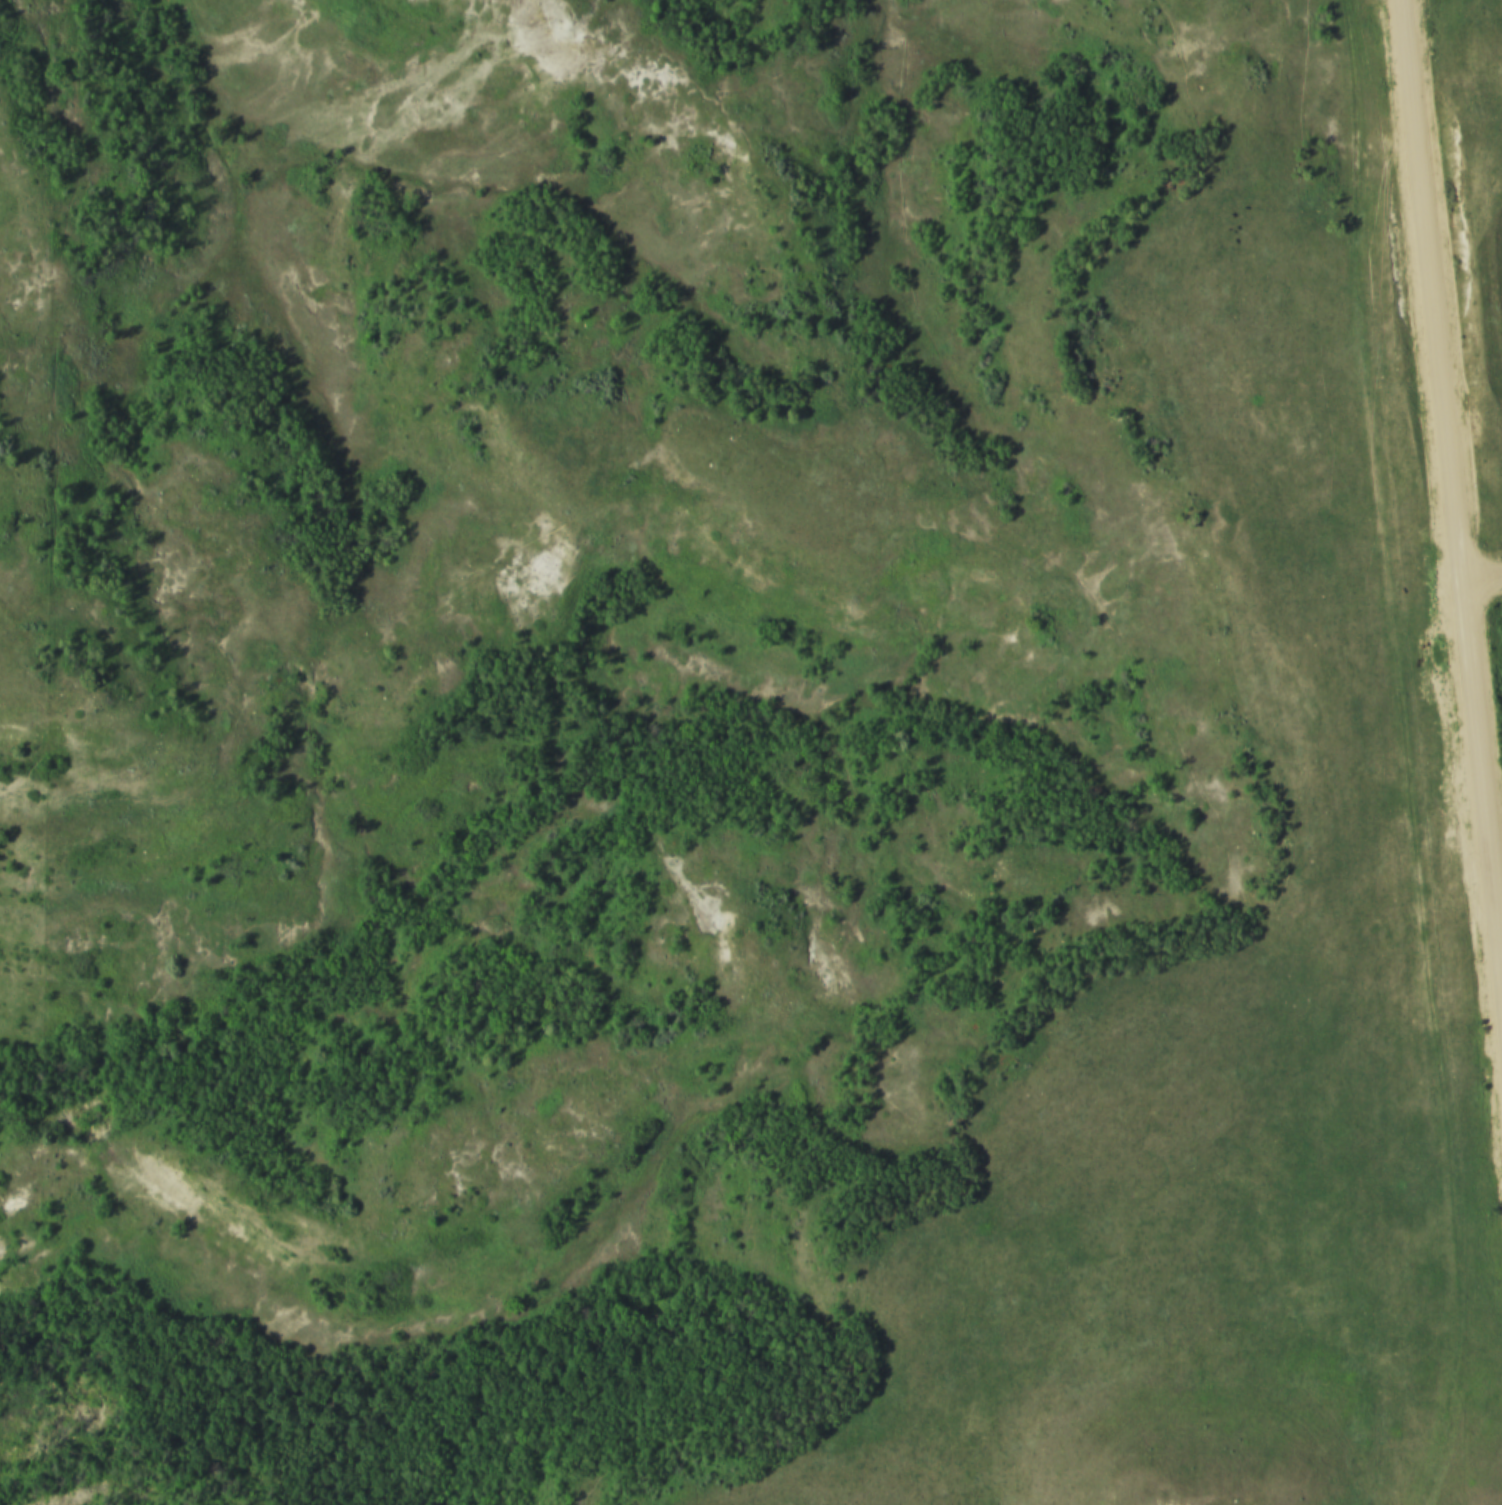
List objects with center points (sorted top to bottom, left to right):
road: (1452, 484)

